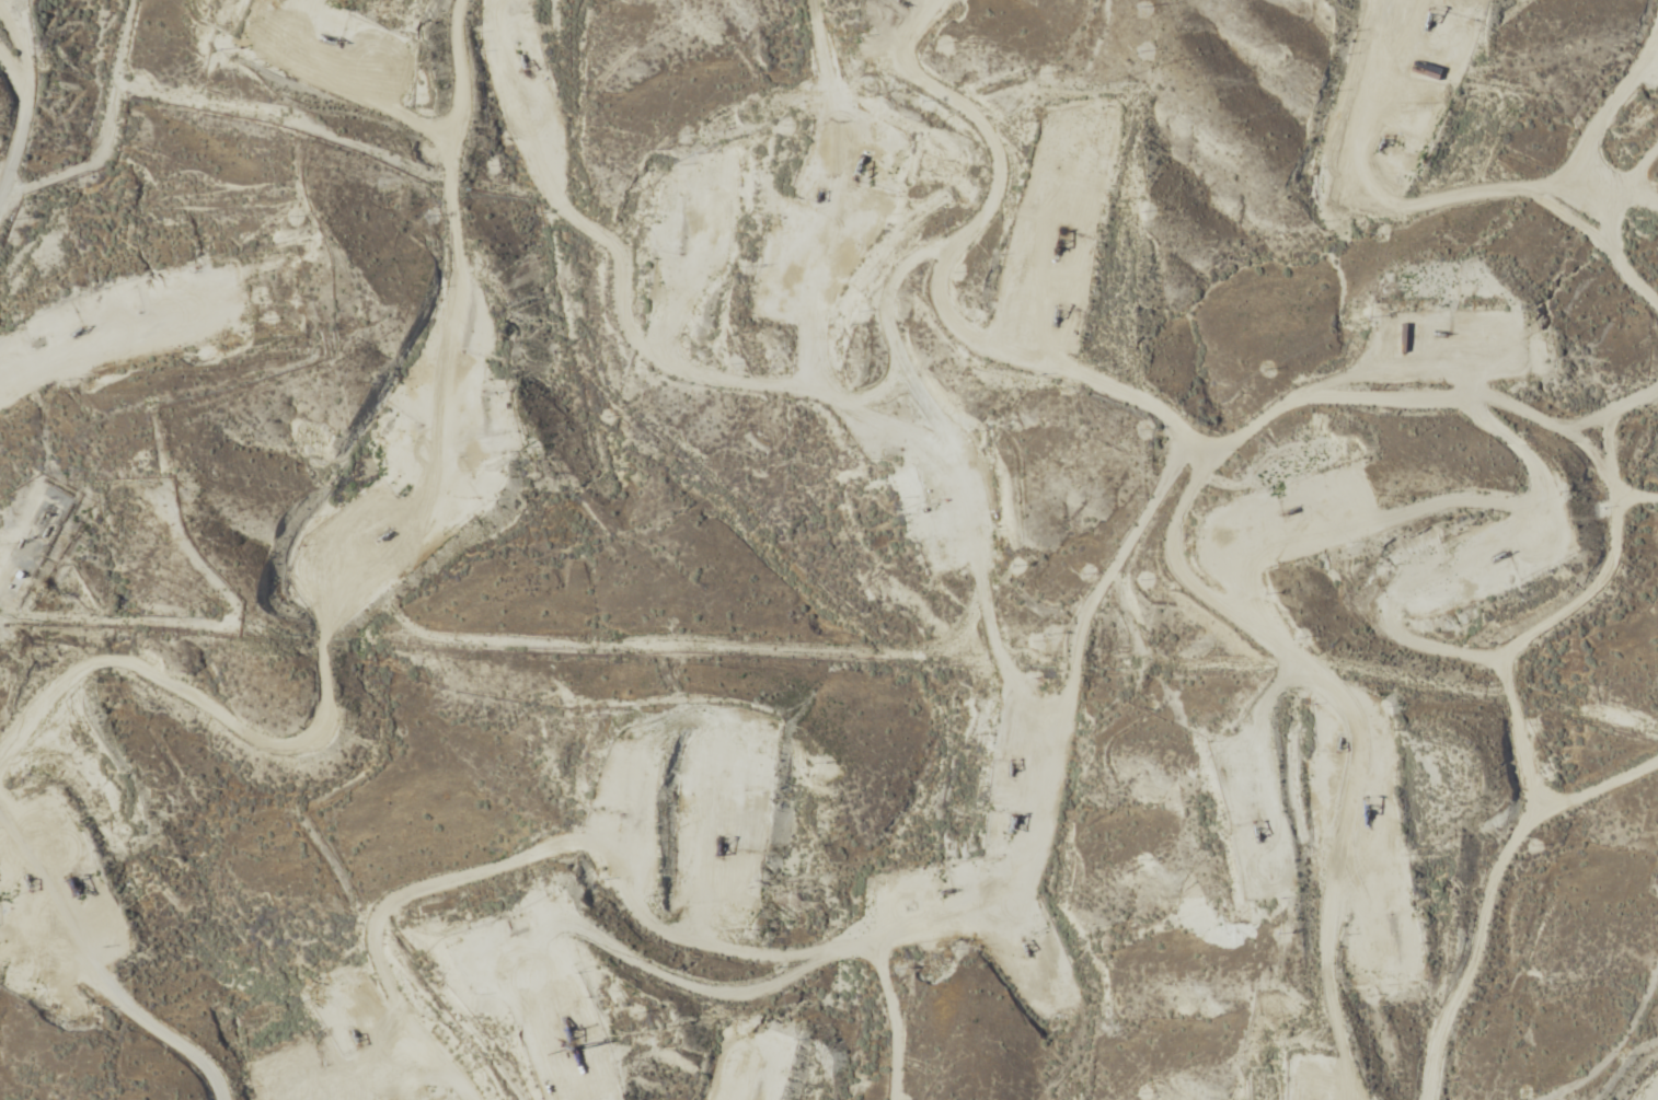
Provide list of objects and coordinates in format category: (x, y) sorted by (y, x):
road: (1585, 134)
road: (1505, 195)
road: (944, 487)
road: (403, 692)
road: (1495, 808)
road: (172, 934)
road: (1607, 1034)

